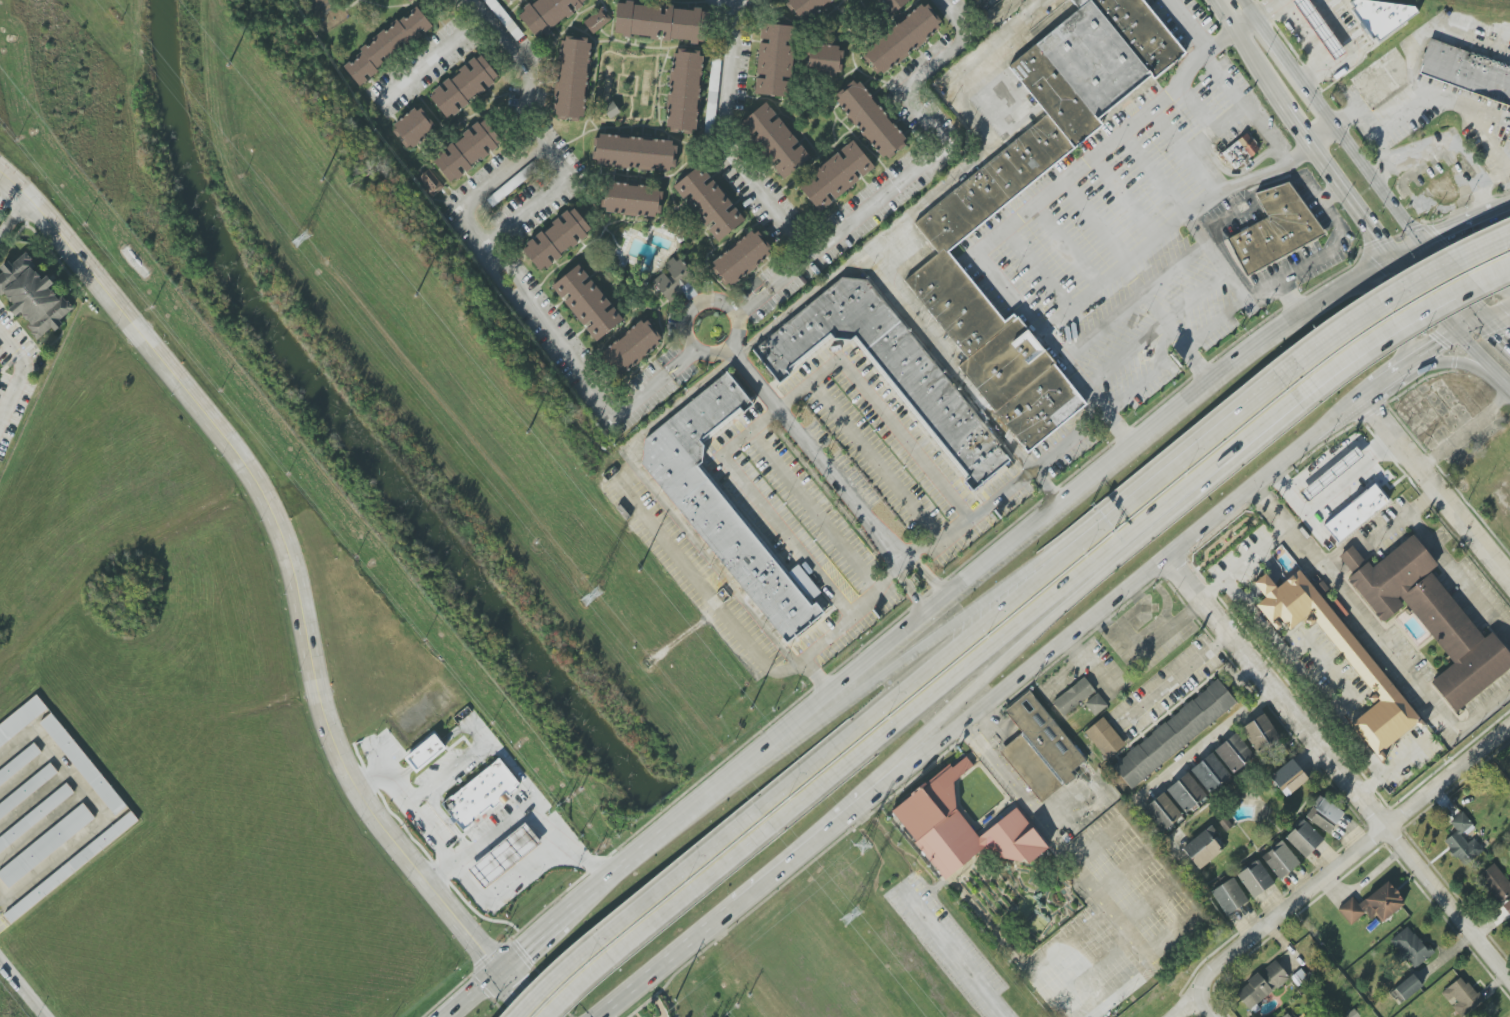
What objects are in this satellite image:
building: (409, 0)
building: (510, 1)
building: (890, 5)
building: (804, 7)
road: (725, 8)
road: (1247, 8)
road: (1266, 8)
building: (546, 14)
road: (1222, 15)
building: (1380, 16)
road: (959, 17)
building: (504, 18)
building: (597, 20)
building: (660, 22)
road: (1187, 23)
road: (1243, 23)
road: (1432, 26)
building: (1319, 27)
building: (901, 38)
road: (1272, 42)
building: (386, 45)
road: (1349, 50)
road: (434, 55)
building: (824, 59)
building: (775, 60)
road: (528, 65)
road: (1257, 67)
building: (1467, 70)
building: (572, 78)
building: (1382, 79)
building: (463, 86)
building: (684, 91)
road: (1438, 96)
road: (1245, 108)
building: (611, 110)
road: (1344, 117)
building: (870, 119)
building: (413, 127)
road: (1447, 139)
building: (774, 140)
road: (720, 142)
road: (1489, 143)
building: (468, 150)
building: (1240, 150)
building: (634, 152)
road: (1355, 155)
building: (836, 175)
road: (908, 178)
road: (1334, 181)
building: (430, 182)
road: (1406, 193)
road: (8, 196)
building: (631, 199)
building: (708, 203)
road: (1502, 205)
road: (1485, 213)
road: (15, 216)
road: (1182, 220)
road: (1012, 224)
building: (1274, 229)
road: (1448, 229)
building: (948, 234)
power tower: (301, 239)
building: (556, 239)
traffic signals: (1421, 241)
road: (1206, 248)
road: (1406, 248)
road: (1325, 254)
traffic signals: (1392, 255)
building: (740, 257)
road: (490, 261)
road: (1475, 262)
building: (673, 279)
road: (1221, 281)
road: (1424, 292)
road: (1400, 293)
road: (1464, 294)
building: (32, 296)
building: (586, 302)
road: (1399, 308)
road: (1406, 314)
traffic signals: (1482, 317)
road: (1282, 326)
traffic signals: (1456, 330)
road: (1154, 331)
road: (1451, 332)
road: (765, 333)
road: (1485, 338)
building: (632, 346)
road: (695, 348)
road: (1474, 350)
road: (1446, 360)
building: (887, 367)
road: (18, 374)
road: (1429, 375)
road: (1501, 379)
road: (960, 383)
road: (1380, 383)
road: (781, 404)
road: (1373, 411)
road: (1254, 427)
road: (1465, 432)
road: (1070, 438)
road: (1190, 451)
road: (816, 454)
road: (873, 460)
building: (1331, 473)
road: (1273, 482)
road: (1435, 489)
road: (1329, 496)
building: (721, 505)
road: (812, 511)
building: (1356, 512)
road: (1360, 538)
park: (1224, 539)
road: (909, 560)
road: (1242, 561)
road: (1443, 562)
road: (1172, 565)
road: (927, 577)
road: (970, 579)
road: (296, 581)
road: (912, 590)
power tower: (594, 594)
building: (1429, 617)
road: (1375, 634)
road: (1062, 638)
road: (922, 647)
road: (984, 650)
building: (1363, 665)
road: (1177, 673)
road: (920, 675)
road: (816, 679)
road: (981, 679)
road: (1313, 688)
building: (1072, 696)
building: (1095, 704)
building: (21, 720)
building: (1174, 733)
building: (1260, 733)
building: (1104, 738)
road: (1209, 742)
building: (1040, 748)
road: (478, 752)
building: (425, 753)
building: (1234, 753)
building: (19, 763)
building: (83, 764)
road: (1336, 768)
building: (1210, 773)
building: (1288, 777)
building: (28, 790)
building: (1186, 792)
building: (480, 794)
road: (890, 796)
road: (405, 807)
road: (527, 808)
building: (1162, 812)
building: (1323, 814)
building: (35, 816)
building: (961, 827)
road: (662, 834)
building: (1304, 838)
building: (1462, 841)
building: (45, 845)
power tower: (861, 847)
building: (1203, 848)
building: (504, 854)
road: (1348, 857)
building: (1280, 860)
building: (71, 867)
road: (1079, 870)
building: (1255, 878)
road: (502, 882)
building: (1495, 882)
building: (1229, 896)
building: (1373, 905)
road: (634, 910)
power tower: (854, 911)
road: (656, 919)
road: (530, 942)
building: (1410, 947)
road: (680, 949)
road: (954, 952)
traffic signals: (498, 969)
road: (24, 985)
building: (1261, 985)
building: (1406, 988)
road: (469, 993)
building: (1462, 997)
road: (1202, 1006)
road: (1184, 1007)
building: (1288, 1015)

